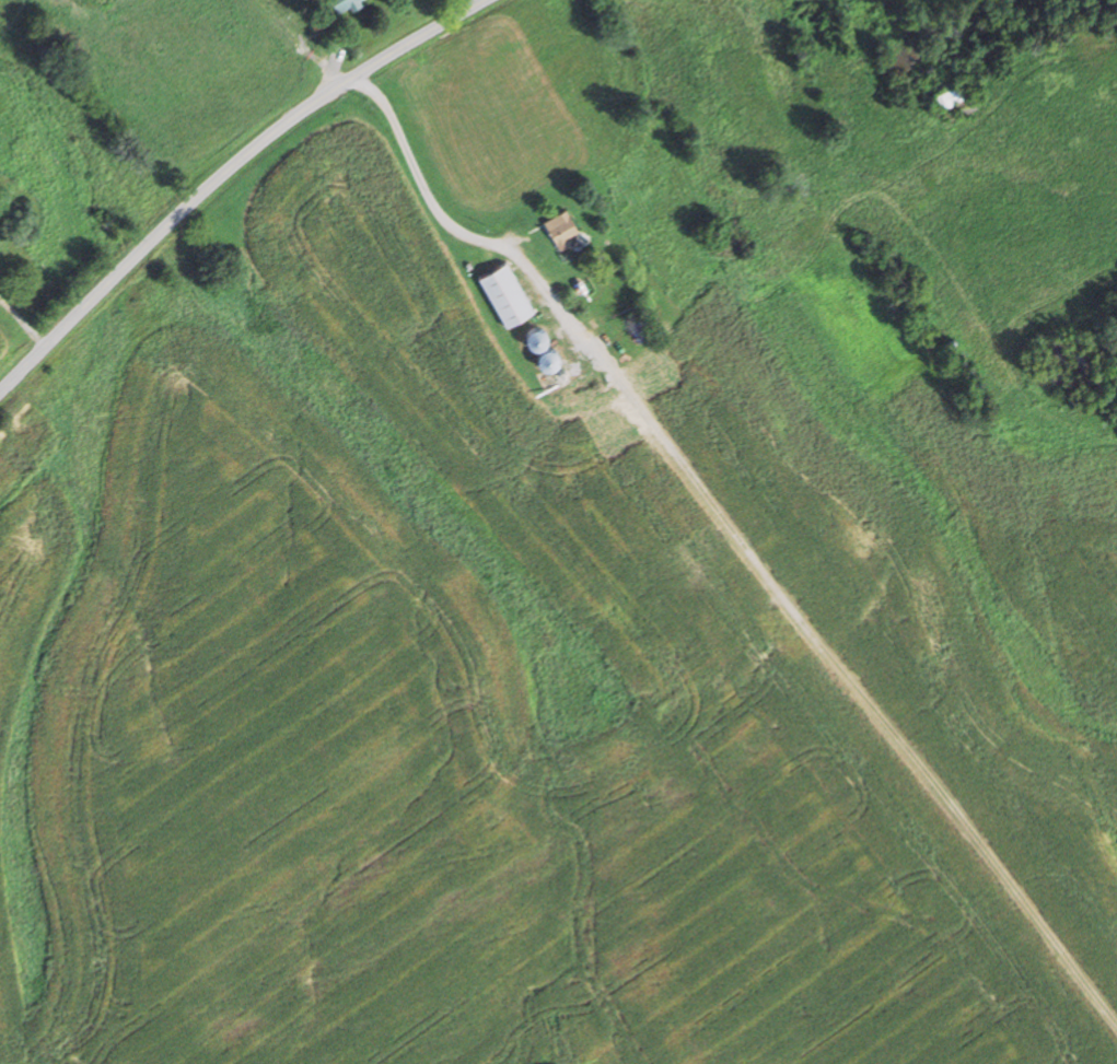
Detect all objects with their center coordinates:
road: (777, 92)
road: (224, 174)

